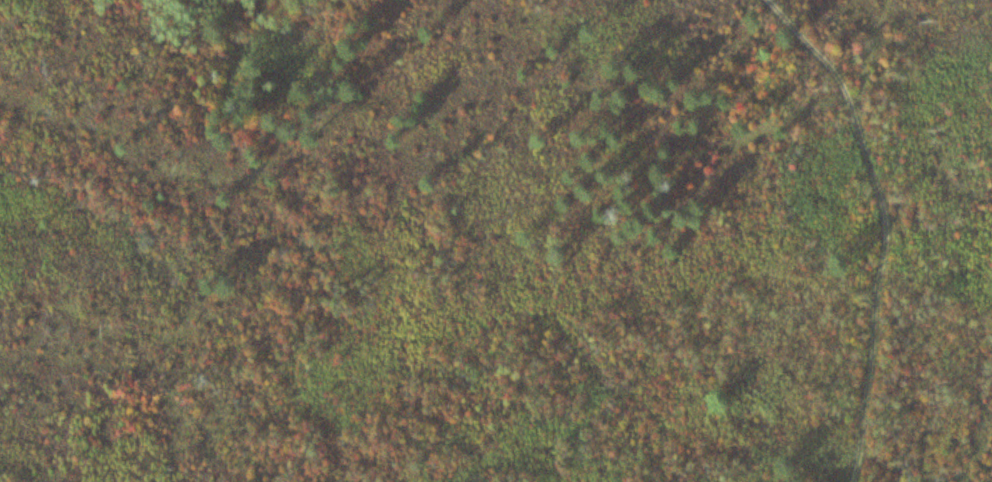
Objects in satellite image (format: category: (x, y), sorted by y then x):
road: (871, 224)

